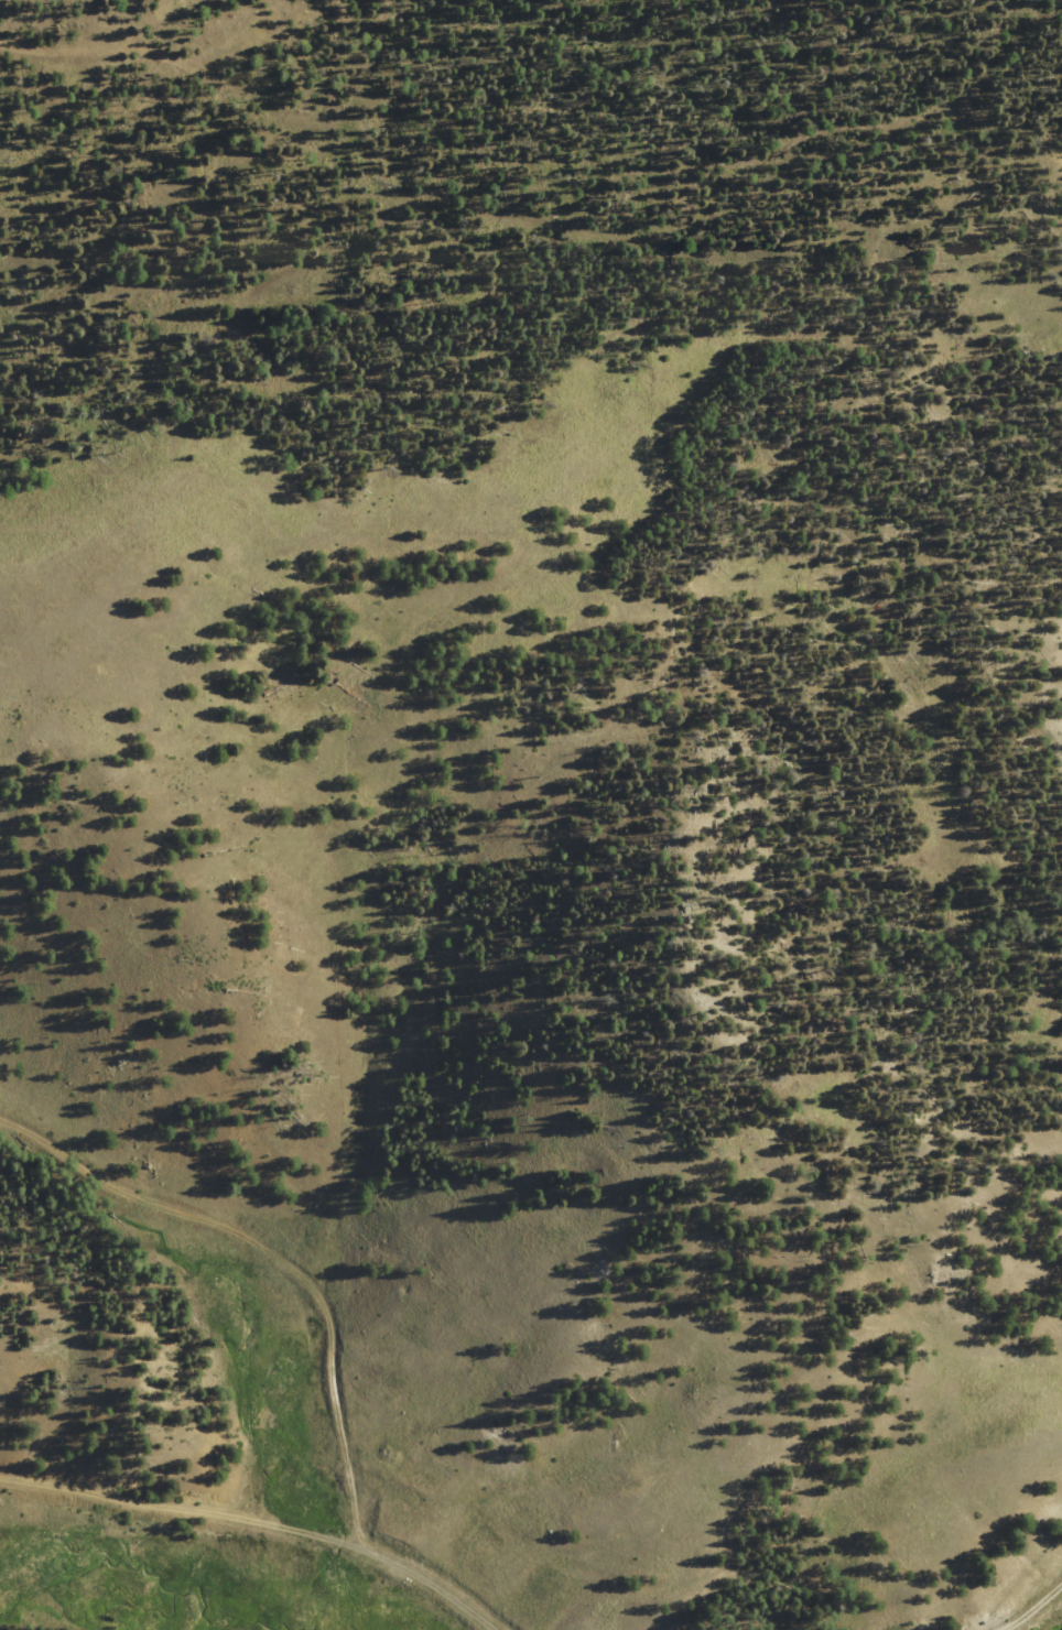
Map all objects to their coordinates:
road: (480, 182)
road: (303, 1236)
road: (294, 1523)
road: (1029, 1617)

